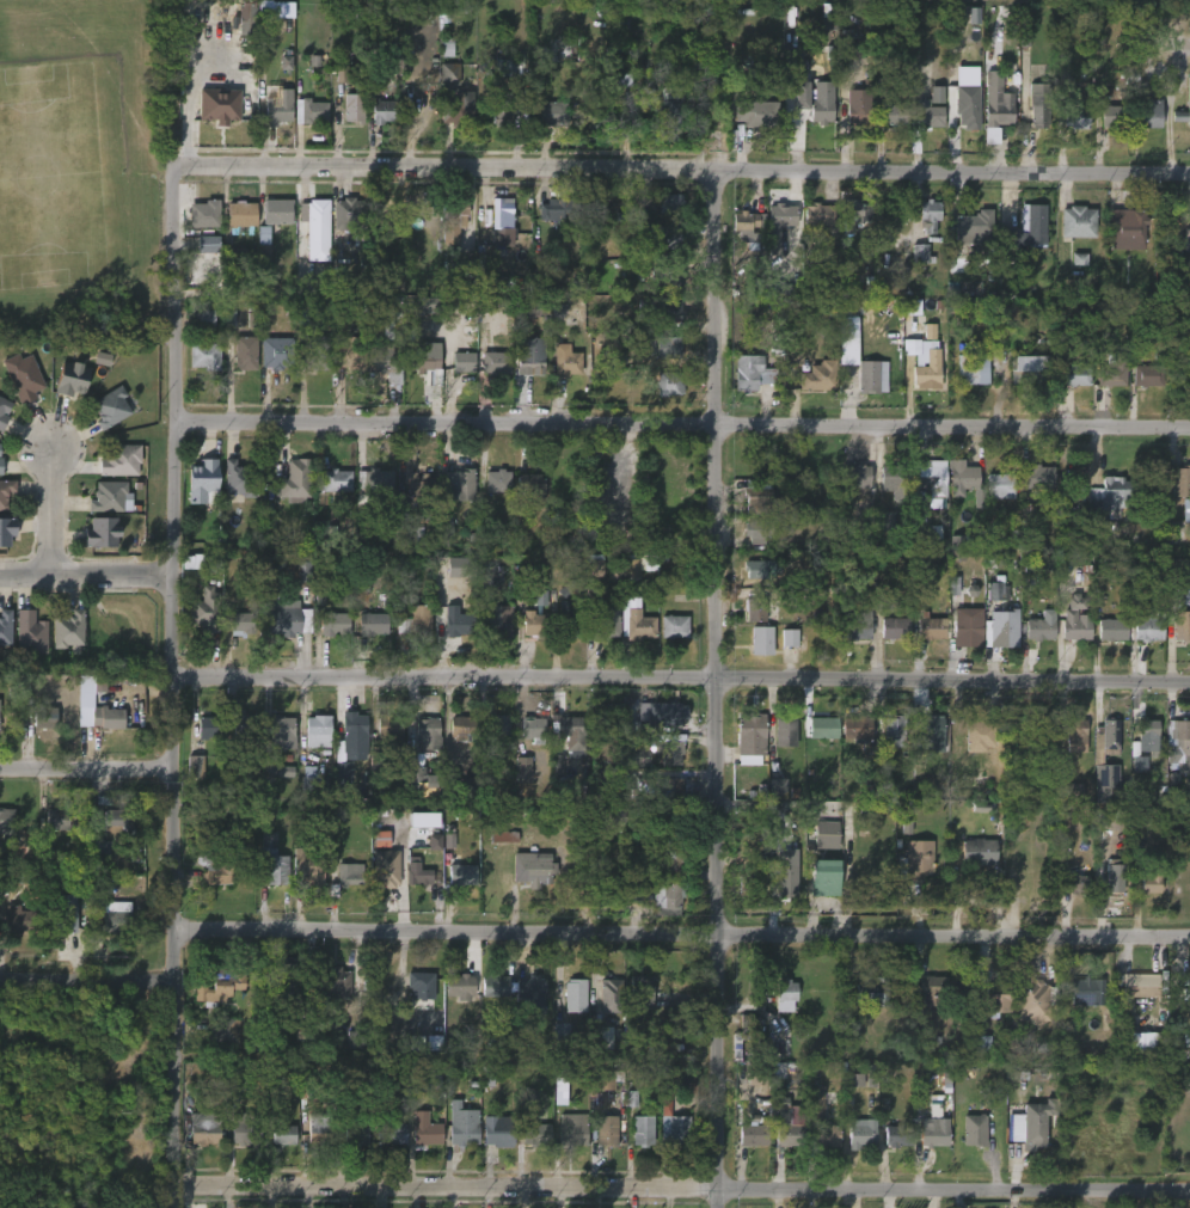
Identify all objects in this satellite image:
building: (275, 10)
building: (974, 16)
building: (245, 19)
building: (852, 48)
building: (509, 68)
building: (341, 74)
building: (449, 74)
building: (920, 87)
building: (1186, 92)
building: (822, 102)
building: (998, 102)
building: (1037, 103)
building: (281, 104)
building: (460, 105)
building: (671, 105)
building: (811, 105)
building: (357, 108)
building: (219, 109)
building: (510, 109)
building: (312, 110)
building: (388, 110)
building: (590, 110)
building: (967, 110)
building: (755, 111)
building: (557, 112)
building: (857, 112)
building: (891, 112)
building: (1143, 112)
building: (930, 115)
building: (1069, 115)
building: (1109, 115)
building: (992, 135)
road: (683, 165)
park: (79, 168)
building: (671, 203)
building: (385, 208)
building: (560, 209)
building: (277, 211)
building: (854, 211)
building: (207, 214)
building: (351, 214)
building: (817, 214)
building: (924, 214)
building: (314, 215)
building: (783, 215)
building: (240, 216)
building: (452, 219)
building: (1078, 222)
building: (502, 223)
building: (974, 225)
building: (746, 226)
building: (1033, 226)
building: (1125, 226)
building: (262, 235)
building: (660, 239)
building: (1010, 239)
building: (1185, 239)
building: (208, 244)
building: (919, 253)
building: (235, 255)
building: (668, 277)
building: (502, 305)
building: (428, 306)
building: (913, 307)
building: (530, 308)
building: (669, 309)
building: (207, 319)
building: (391, 326)
building: (930, 331)
building: (912, 339)
building: (848, 341)
building: (665, 348)
building: (319, 352)
building: (245, 354)
building: (276, 354)
building: (208, 355)
building: (350, 355)
building: (533, 357)
building: (424, 358)
building: (568, 360)
building: (462, 362)
building: (499, 362)
building: (389, 363)
building: (928, 369)
building: (973, 370)
building: (754, 372)
building: (1029, 372)
building: (1111, 372)
building: (864, 374)
building: (1147, 374)
building: (821, 375)
building: (1075, 375)
building: (24, 376)
building: (68, 379)
building: (671, 384)
building: (112, 407)
building: (1, 413)
road: (688, 423)
building: (1, 449)
building: (0, 458)
building: (118, 460)
building: (1, 467)
building: (855, 476)
building: (1037, 476)
building: (962, 477)
building: (930, 478)
building: (207, 479)
building: (241, 479)
building: (374, 479)
building: (897, 479)
building: (295, 480)
building: (333, 480)
building: (498, 480)
building: (1180, 480)
building: (460, 483)
building: (529, 484)
building: (1000, 485)
building: (6, 492)
building: (419, 492)
building: (111, 497)
building: (760, 499)
building: (1106, 499)
building: (1185, 510)
road: (49, 511)
building: (885, 520)
building: (366, 525)
building: (447, 526)
building: (759, 529)
building: (6, 531)
building: (99, 532)
building: (330, 533)
building: (1176, 533)
building: (961, 540)
building: (195, 562)
building: (650, 563)
building: (460, 568)
building: (631, 568)
building: (595, 569)
building: (757, 569)
building: (303, 572)
road: (90, 577)
building: (360, 583)
building: (995, 584)
building: (754, 603)
building: (209, 611)
building: (636, 618)
building: (852, 619)
building: (415, 620)
building: (1075, 620)
building: (286, 621)
building: (502, 621)
building: (568, 621)
building: (241, 623)
building: (461, 623)
building: (332, 624)
building: (372, 624)
building: (538, 624)
building: (602, 625)
building: (5, 626)
building: (677, 626)
building: (931, 626)
building: (1148, 626)
building: (1180, 626)
building: (896, 627)
building: (1039, 627)
building: (1000, 628)
building: (1111, 628)
building: (66, 630)
building: (31, 631)
building: (968, 632)
building: (789, 638)
building: (762, 639)
road: (682, 680)
road: (176, 682)
building: (99, 683)
road: (722, 687)
building: (0, 709)
building: (671, 715)
building: (45, 717)
building: (106, 718)
building: (496, 724)
building: (245, 725)
building: (566, 725)
building: (857, 726)
building: (213, 728)
building: (461, 728)
building: (823, 728)
building: (533, 729)
building: (315, 731)
building: (785, 731)
building: (894, 731)
building: (930, 731)
building: (428, 732)
building: (388, 734)
building: (752, 734)
building: (1141, 734)
building: (281, 735)
building: (979, 736)
building: (1073, 736)
building: (1105, 738)
building: (1177, 743)
building: (349, 744)
building: (674, 752)
building: (195, 766)
road: (87, 767)
building: (283, 772)
building: (418, 778)
building: (313, 781)
building: (1105, 781)
building: (458, 787)
building: (662, 787)
building: (778, 787)
building: (1072, 792)
building: (628, 817)
building: (115, 818)
building: (61, 820)
building: (424, 820)
building: (8, 824)
building: (830, 835)
building: (504, 838)
building: (381, 839)
building: (434, 842)
building: (100, 851)
building: (979, 851)
building: (270, 860)
building: (673, 860)
building: (912, 860)
building: (217, 867)
building: (307, 867)
building: (389, 869)
building: (536, 869)
building: (344, 875)
building: (418, 875)
building: (464, 875)
building: (1112, 876)
building: (830, 879)
building: (1151, 881)
building: (790, 882)
building: (752, 884)
building: (1078, 884)
building: (634, 895)
building: (668, 897)
building: (67, 914)
building: (119, 918)
building: (20, 919)
road: (682, 934)
building: (288, 977)
road: (86, 981)
building: (335, 982)
building: (219, 986)
building: (460, 986)
building: (1136, 986)
building: (1184, 987)
building: (418, 988)
building: (517, 988)
building: (932, 989)
building: (873, 991)
building: (640, 993)
building: (575, 994)
building: (786, 994)
building: (1085, 994)
building: (614, 995)
building: (1032, 999)
building: (995, 1000)
building: (749, 1026)
building: (849, 1029)
building: (226, 1030)
building: (560, 1036)
building: (601, 1038)
building: (355, 1041)
building: (1143, 1042)
building: (417, 1043)
building: (434, 1043)
building: (983, 1043)
building: (1025, 1051)
building: (778, 1071)
building: (756, 1073)
building: (671, 1075)
building: (870, 1075)
building: (231, 1077)
building: (609, 1080)
building: (854, 1080)
building: (1030, 1124)
building: (466, 1127)
building: (786, 1127)
building: (203, 1128)
building: (319, 1128)
building: (429, 1129)
building: (609, 1129)
building: (974, 1129)
building: (394, 1130)
building: (676, 1130)
building: (497, 1132)
building: (576, 1132)
building: (642, 1132)
building: (246, 1133)
building: (538, 1133)
building: (932, 1133)
building: (283, 1134)
building: (753, 1134)
building: (826, 1134)
building: (356, 1135)
building: (861, 1135)
building: (897, 1135)
road: (681, 1189)

